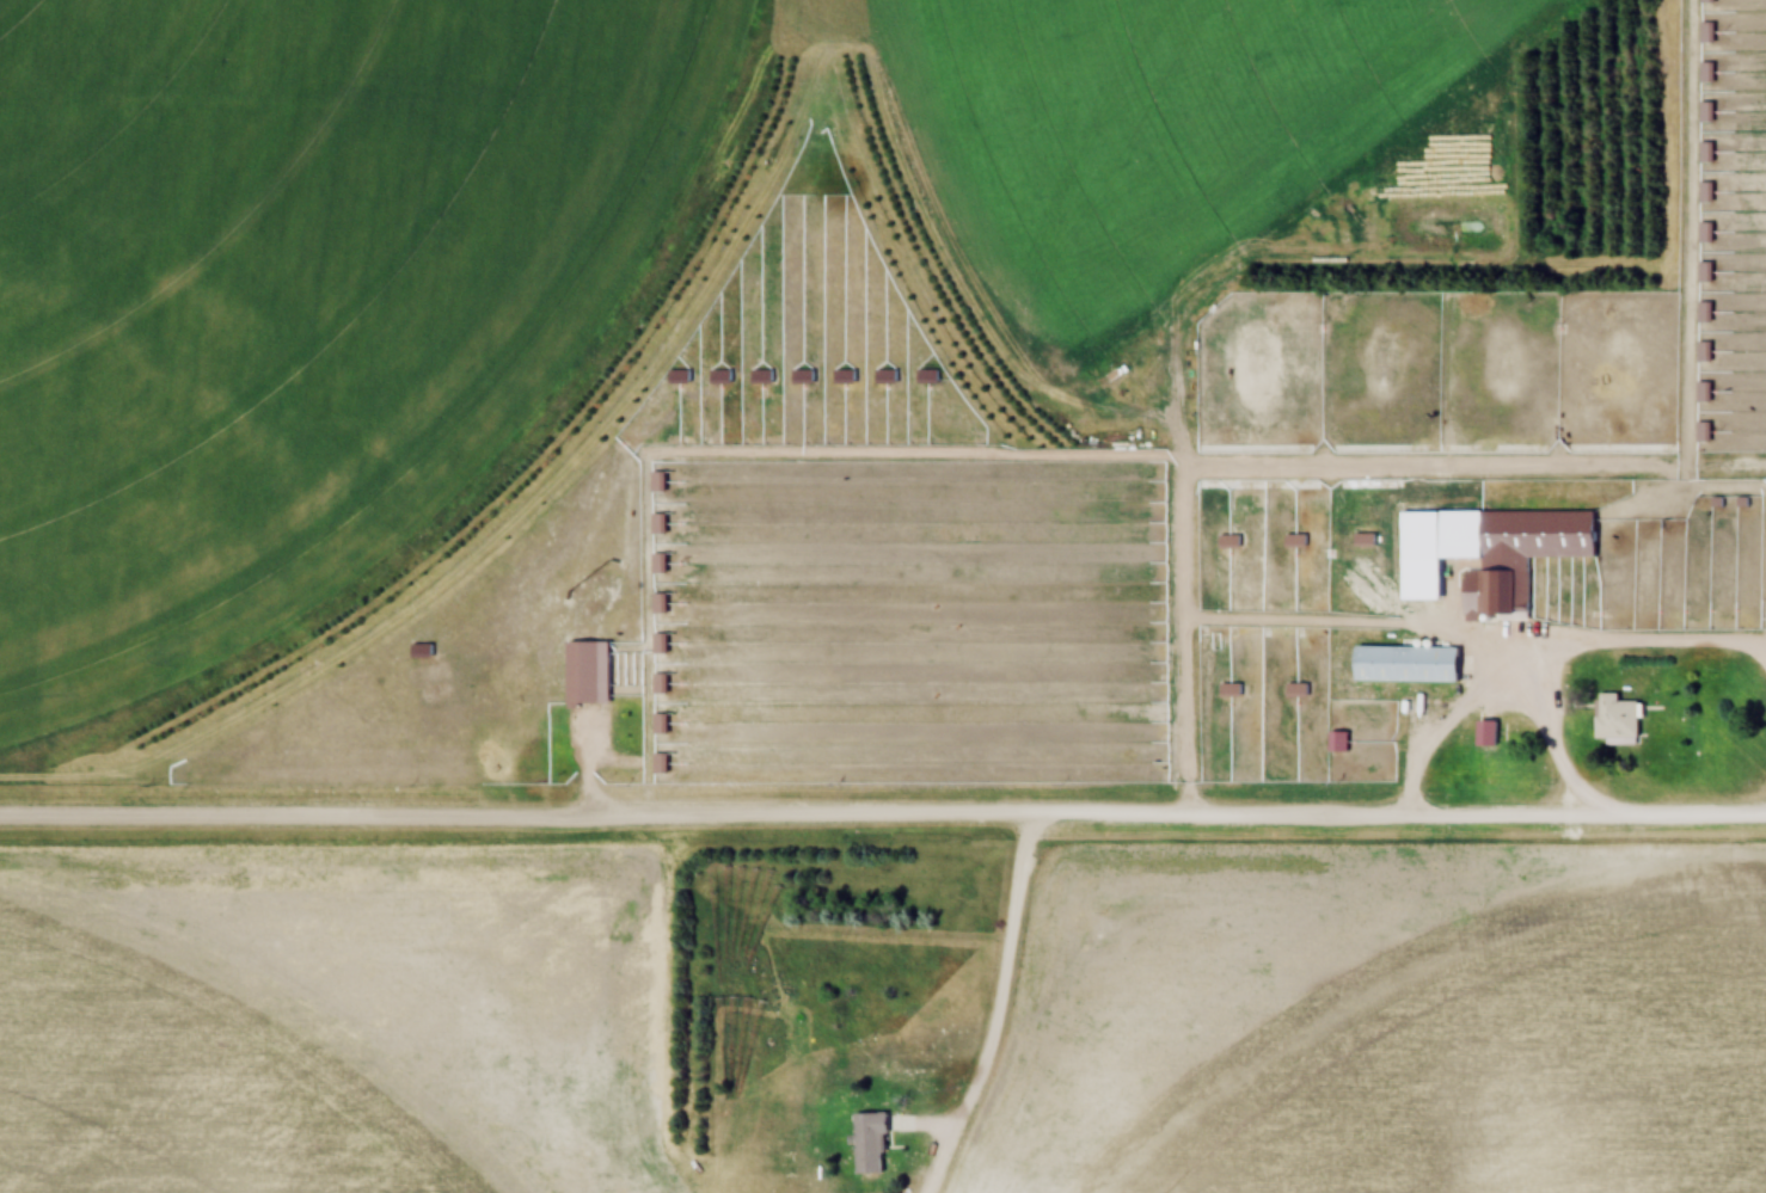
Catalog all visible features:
building: (1705, 0)
building: (1705, 73)
building: (1703, 272)
building: (1701, 312)
building: (1700, 351)
building: (811, 359)
building: (658, 523)
building: (1526, 554)
building: (660, 603)
building: (434, 654)
building: (1409, 665)
building: (589, 674)
building: (660, 683)
road: (1495, 697)
building: (1617, 718)
building: (660, 724)
building: (1488, 734)
building: (1337, 743)
road: (883, 822)
road: (993, 1013)
building: (872, 1144)

